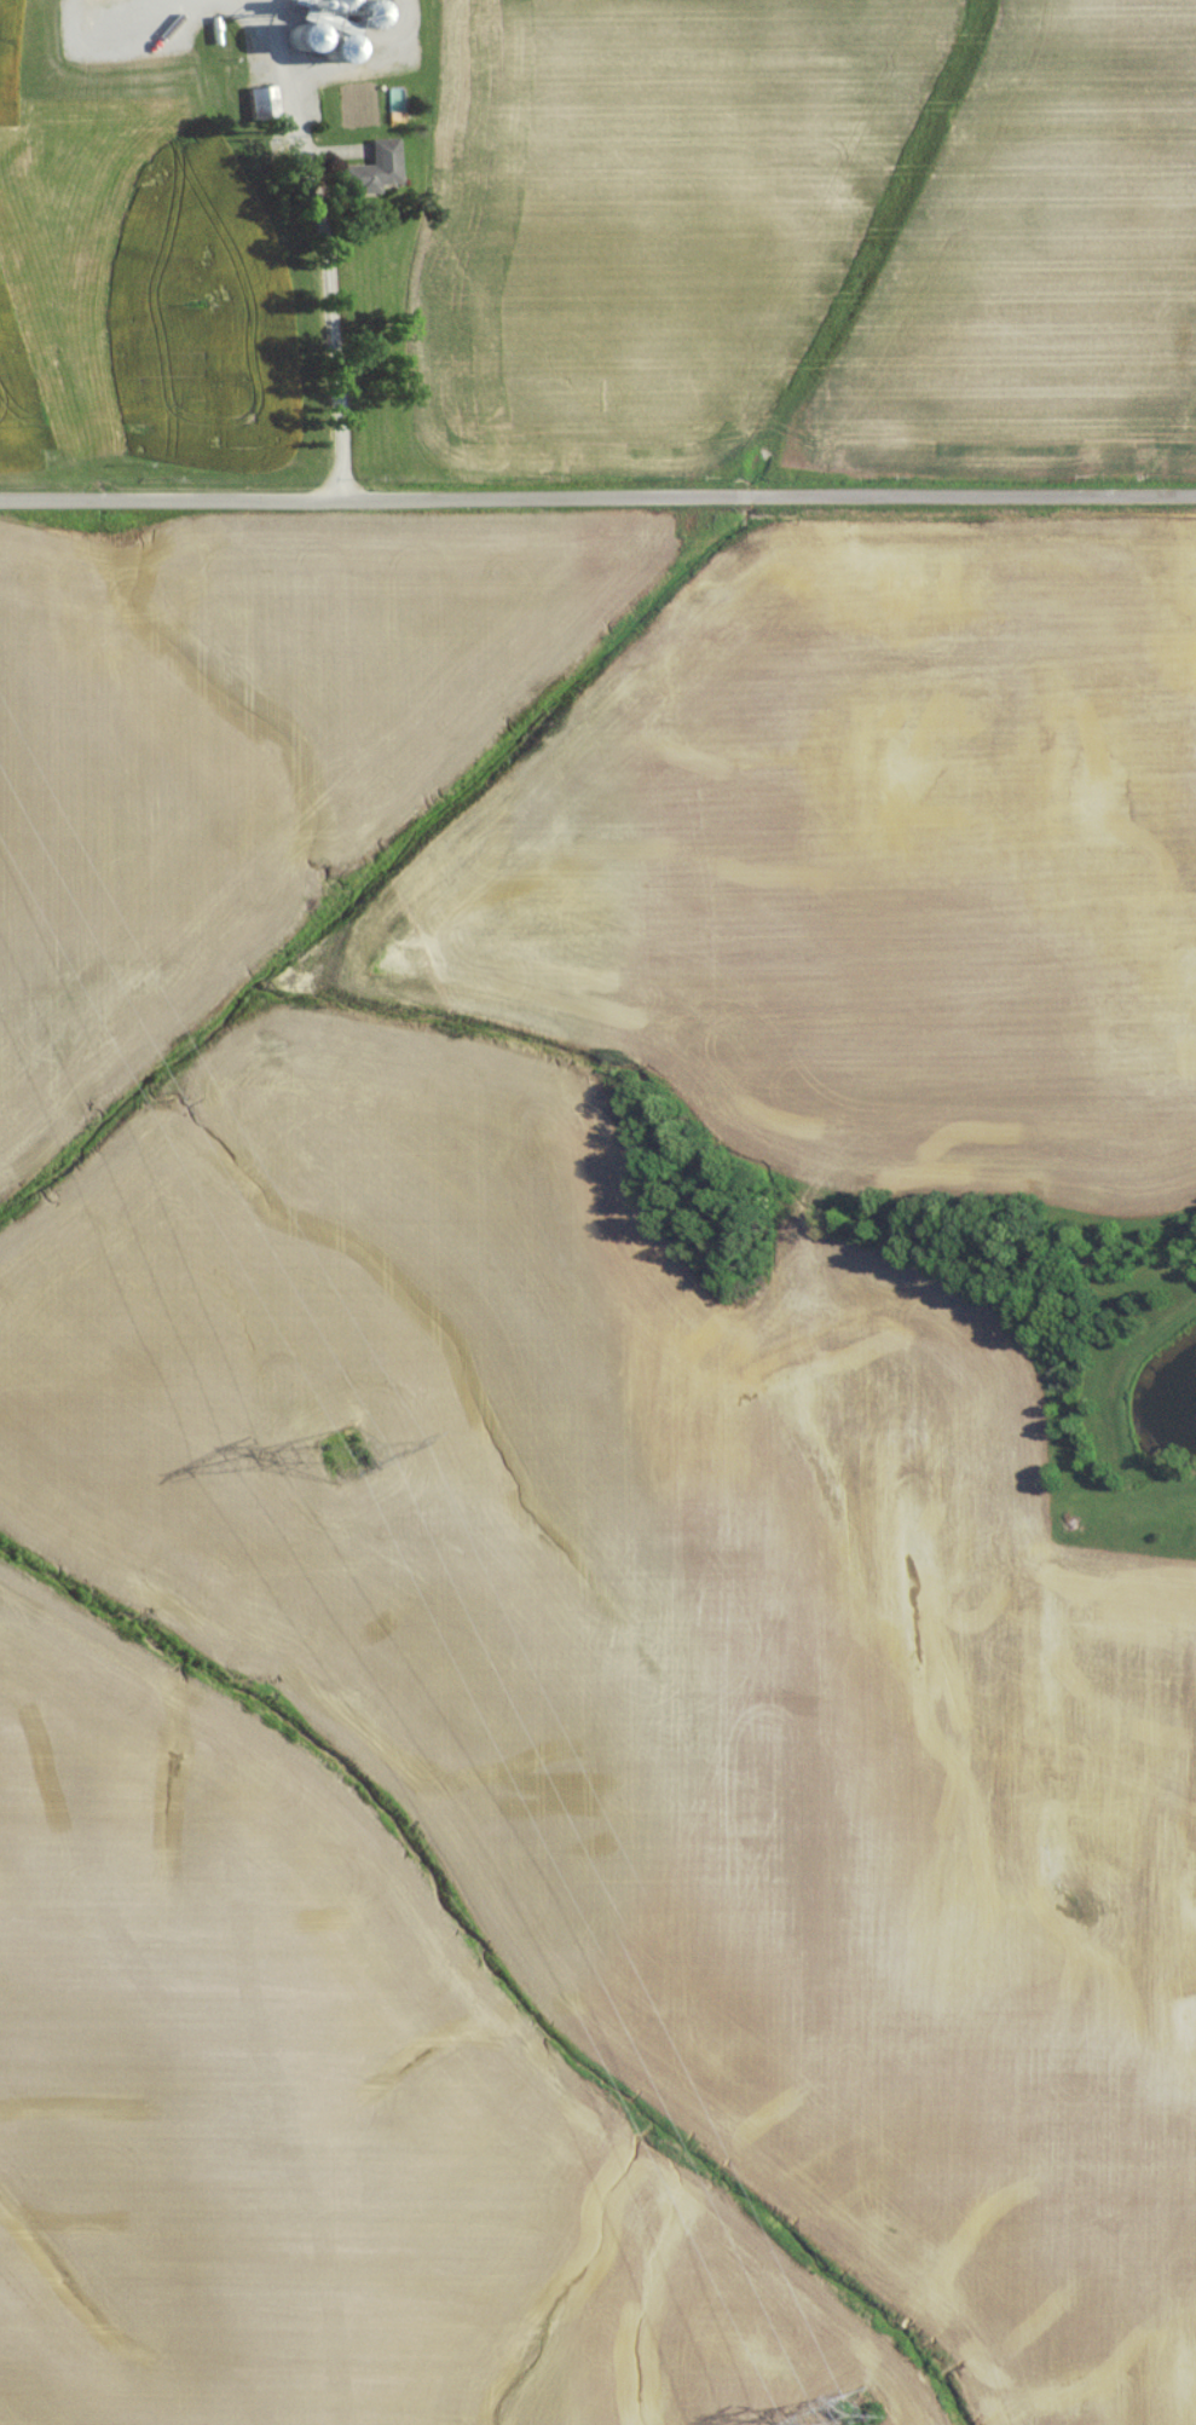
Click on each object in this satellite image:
building: (255, 110)
building: (365, 179)
road: (325, 264)
road: (597, 503)
power tower: (330, 1468)
power tower: (845, 2421)

